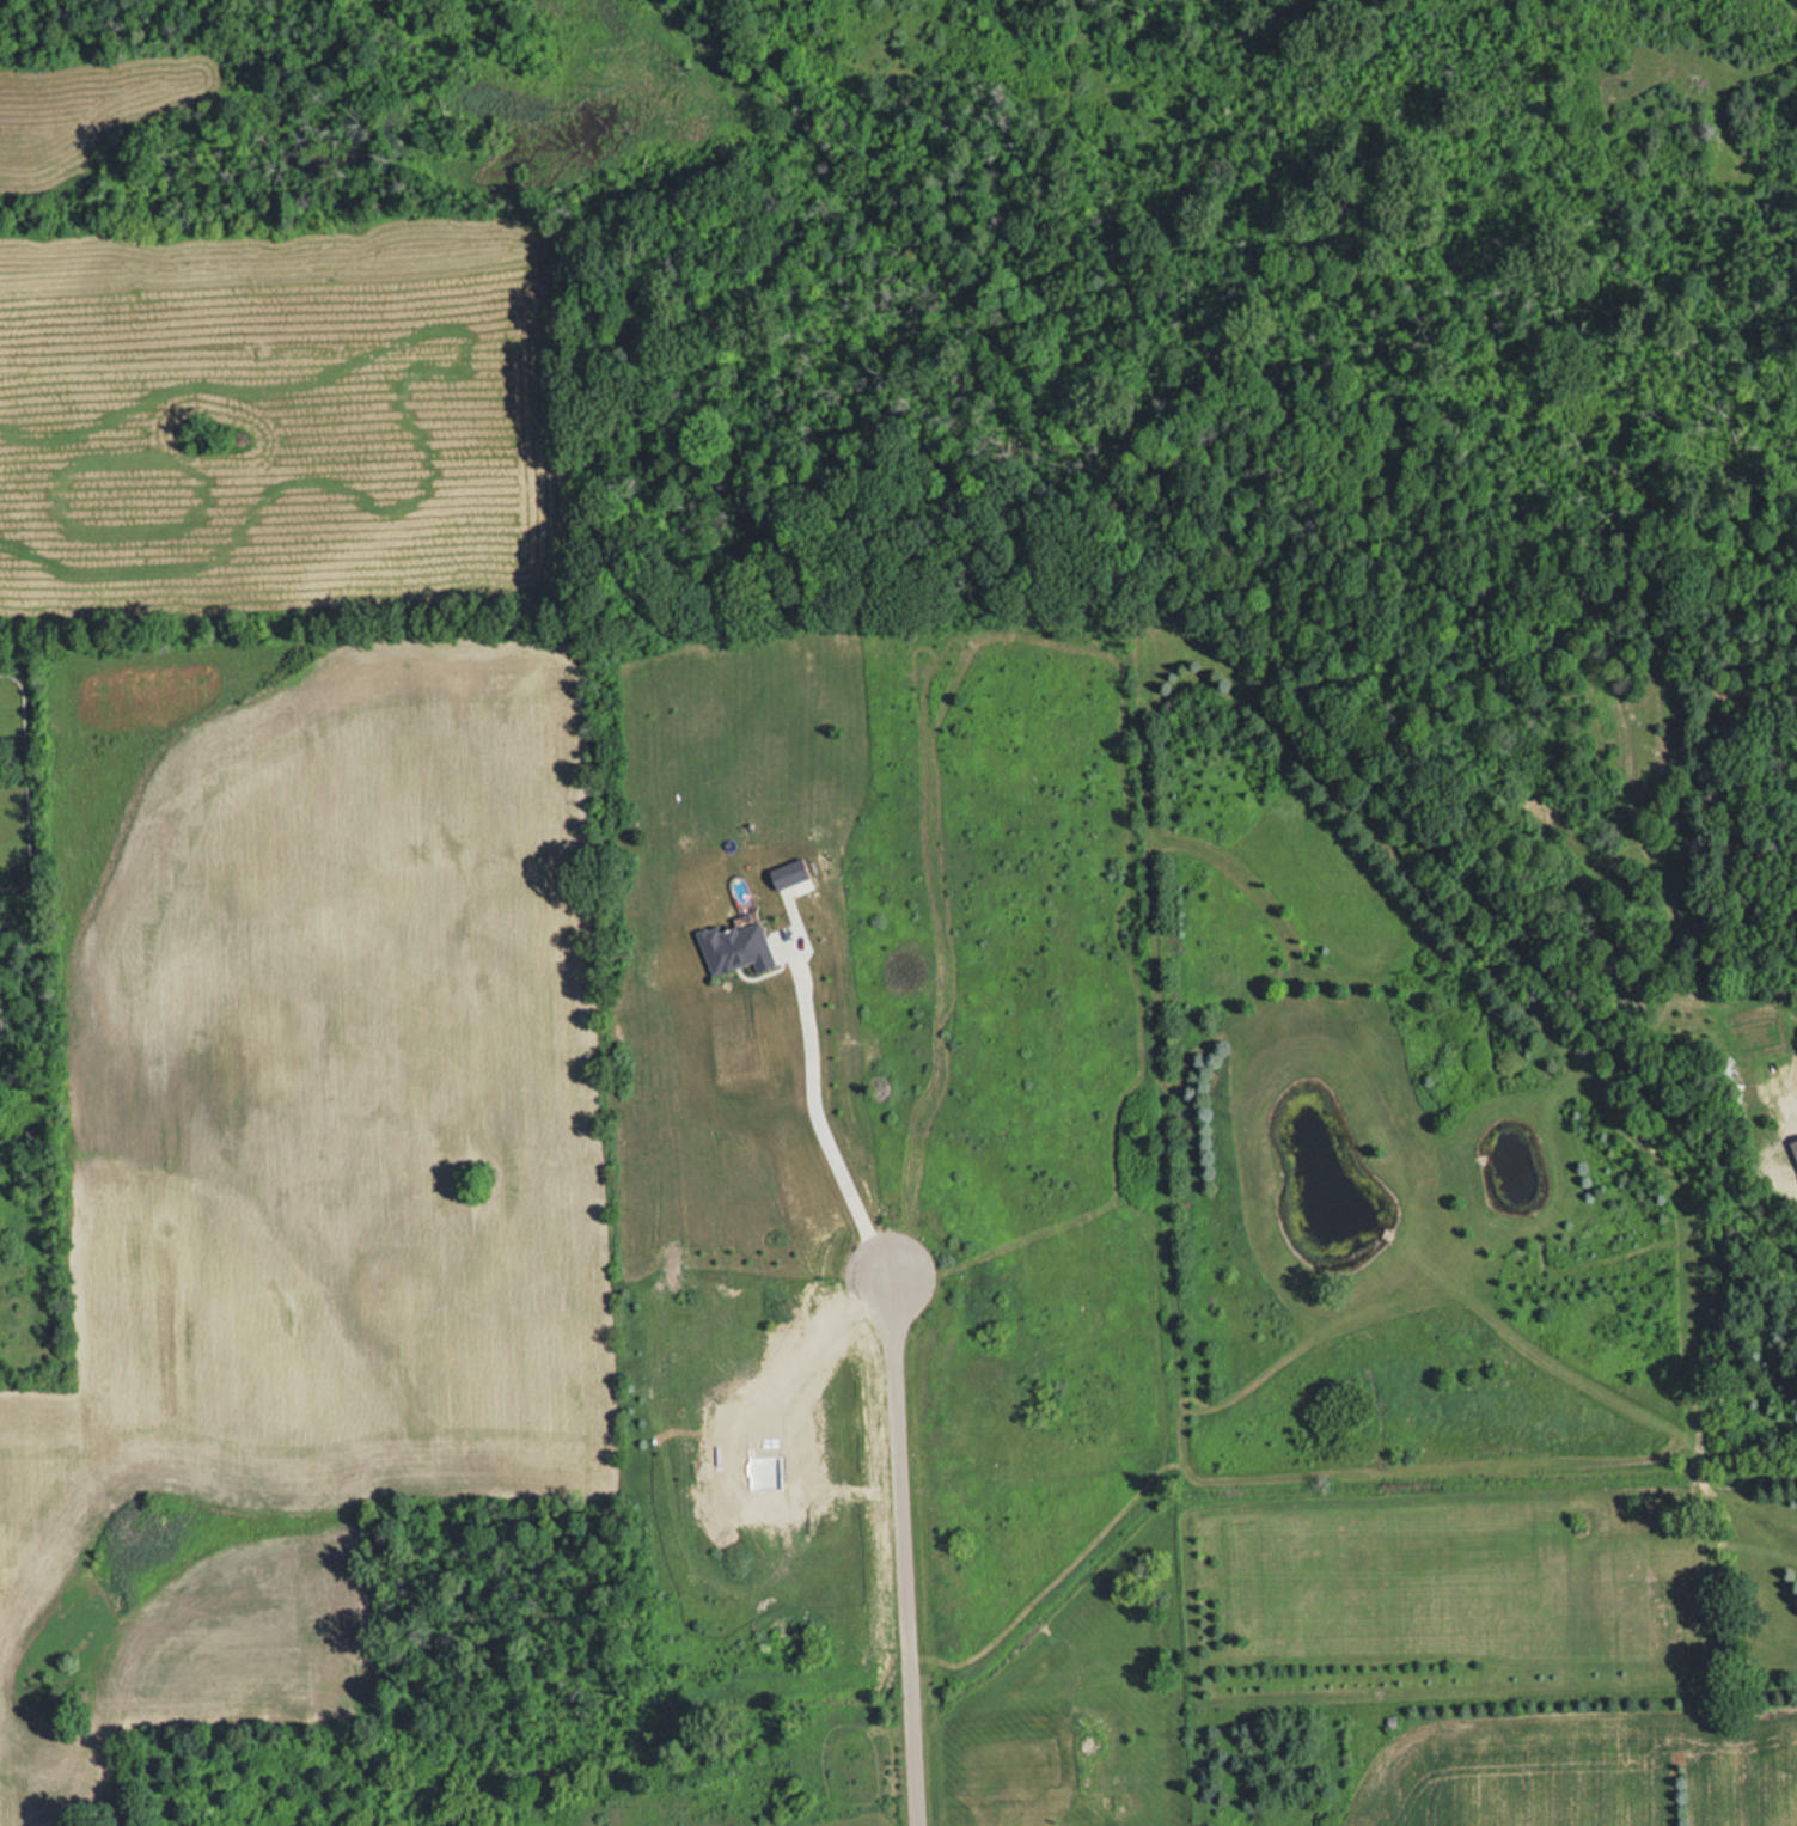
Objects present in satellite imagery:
road: (1234, 647)
building: (1785, 1105)
road: (821, 1112)
road: (901, 1546)

